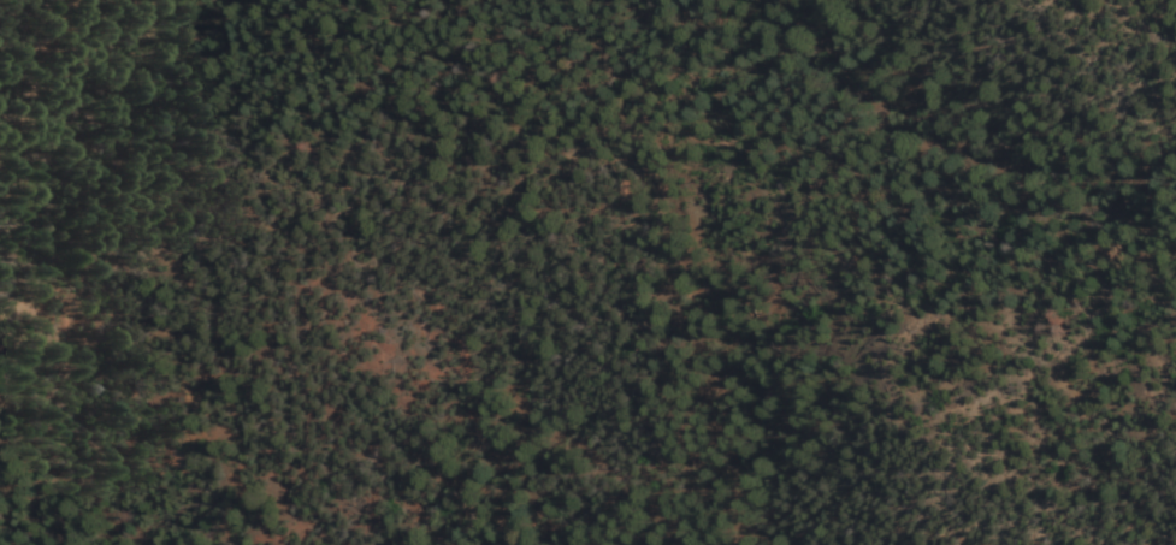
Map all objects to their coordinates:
road: (743, 41)
road: (51, 43)
road: (941, 152)
road: (767, 269)

